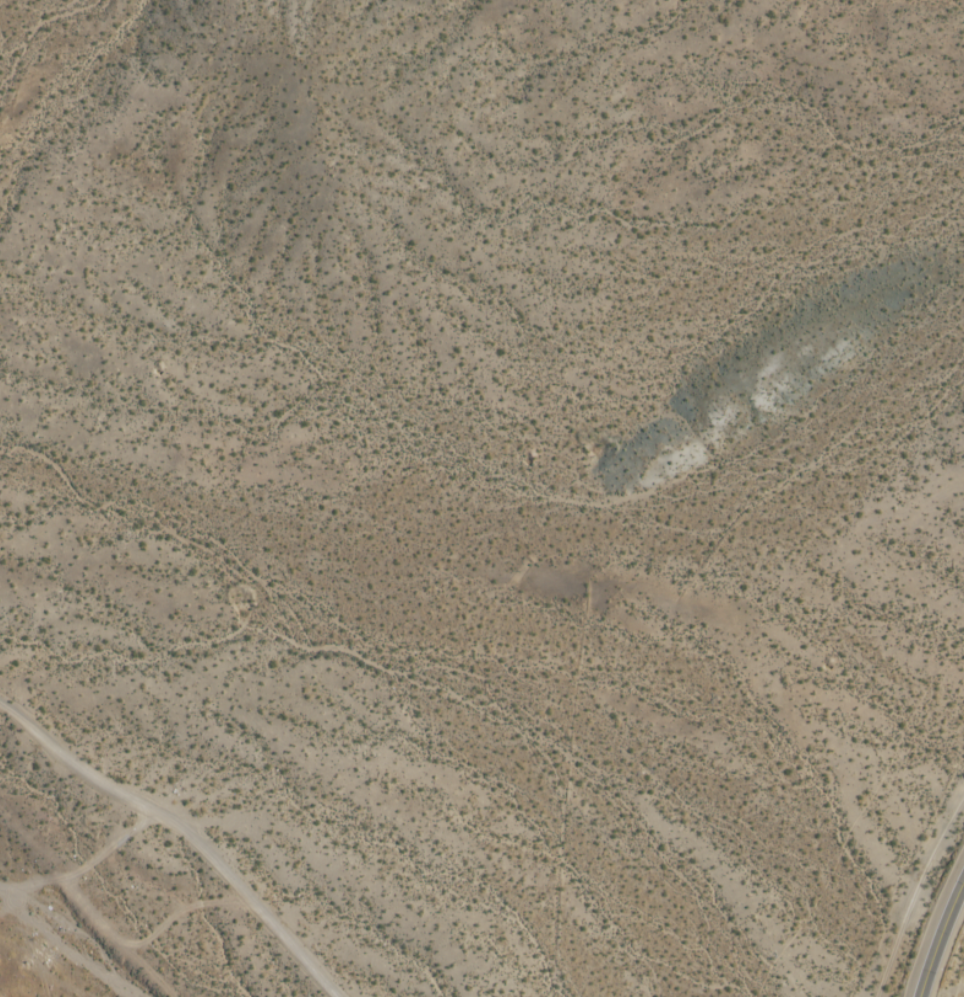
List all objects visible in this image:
road: (186, 830)
road: (937, 937)

